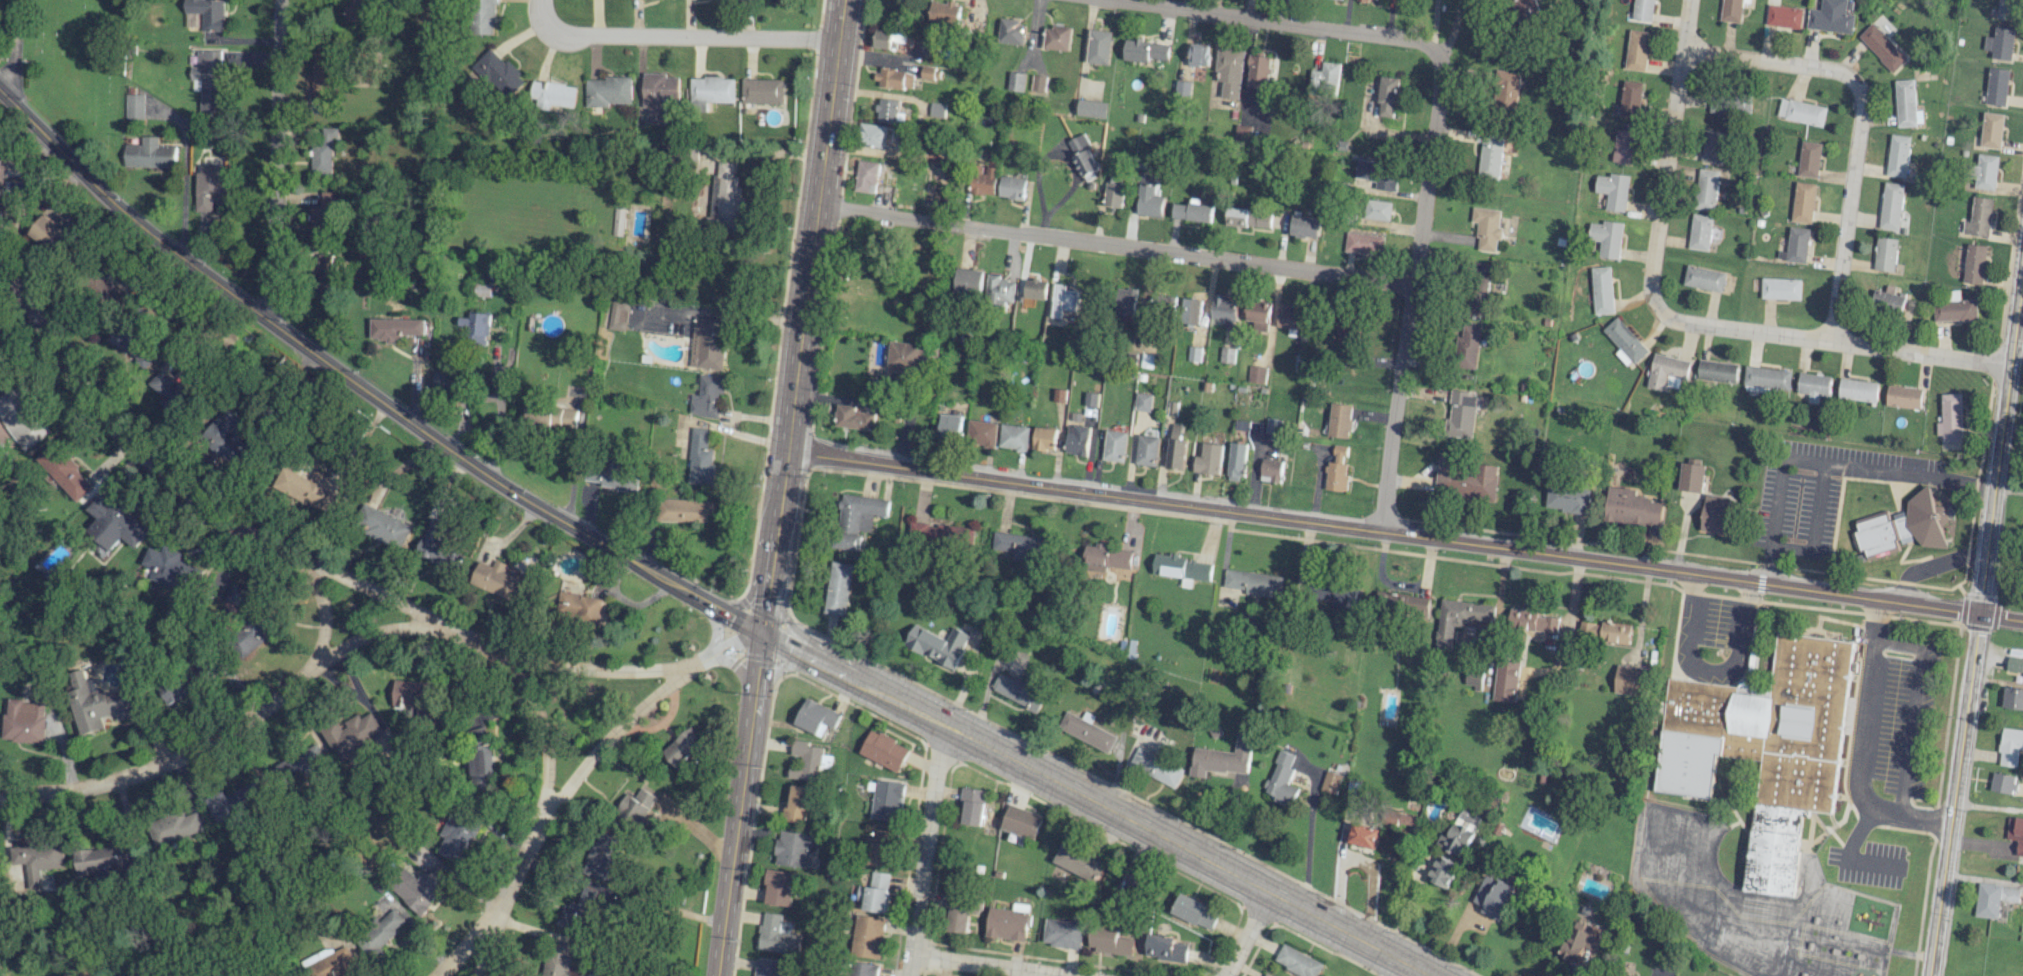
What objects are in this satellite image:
building: (1364, 0)
building: (1641, 9)
building: (2008, 9)
building: (358, 10)
building: (1730, 10)
building: (1526, 11)
building: (943, 12)
building: (207, 13)
building: (1783, 16)
building: (484, 17)
building: (1830, 20)
building: (1001, 30)
road: (678, 35)
building: (1057, 37)
building: (888, 38)
building: (2001, 43)
building: (1098, 46)
building: (1882, 47)
road: (12, 48)
building: (1635, 49)
building: (1144, 50)
building: (1198, 55)
road: (1770, 61)
park: (68, 70)
building: (1230, 70)
building: (1258, 71)
building: (498, 73)
building: (930, 73)
building: (321, 75)
building: (1326, 76)
building: (207, 78)
building: (894, 78)
building: (1016, 81)
building: (1038, 84)
building: (1999, 86)
building: (1182, 88)
building: (712, 90)
building: (1506, 90)
building: (606, 91)
building: (762, 91)
building: (658, 94)
building: (551, 95)
building: (1388, 96)
building: (1629, 98)
building: (1728, 103)
building: (134, 106)
building: (1091, 108)
building: (937, 109)
building: (886, 110)
building: (1800, 112)
road: (1432, 125)
building: (1992, 130)
building: (873, 135)
building: (1622, 146)
building: (1712, 146)
building: (322, 151)
building: (149, 154)
building: (1490, 155)
building: (1899, 155)
building: (1082, 156)
road: (1667, 156)
road: (272, 159)
building: (1809, 159)
building: (2, 166)
building: (1987, 171)
building: (1377, 173)
building: (866, 176)
building: (983, 180)
building: (210, 186)
building: (1002, 186)
building: (1706, 189)
building: (1612, 190)
building: (1114, 192)
building: (725, 199)
building: (1148, 201)
building: (1803, 201)
building: (1892, 205)
building: (6, 207)
building: (1379, 210)
building: (1192, 211)
road: (1848, 211)
building: (1237, 216)
building: (321, 217)
building: (1979, 217)
building: (1259, 219)
building: (635, 226)
building: (1304, 226)
building: (1486, 227)
building: (1700, 232)
building: (49, 233)
building: (1606, 238)
building: (1363, 243)
road: (1115, 244)
building: (1796, 245)
building: (1885, 254)
building: (1974, 263)
building: (327, 274)
building: (1705, 278)
building: (123, 279)
building: (968, 280)
building: (995, 288)
building: (1035, 288)
building: (1781, 288)
building: (1479, 289)
building: (1602, 289)
road: (805, 291)
building: (1892, 299)
building: (1064, 300)
building: (1126, 300)
building: (1163, 305)
building: (1955, 308)
building: (1225, 309)
building: (1193, 311)
building: (617, 314)
building: (1257, 314)
building: (1290, 317)
building: (395, 328)
building: (476, 328)
building: (1345, 336)
road: (1833, 340)
building: (1624, 342)
building: (707, 343)
building: (132, 345)
building: (1467, 346)
building: (1194, 353)
building: (1227, 354)
building: (910, 357)
road: (34, 361)
road: (332, 366)
building: (1666, 371)
building: (1716, 371)
building: (1257, 374)
building: (1765, 378)
building: (445, 381)
building: (1812, 385)
building: (1856, 390)
building: (170, 392)
building: (1059, 395)
building: (707, 396)
building: (1903, 396)
building: (1143, 401)
building: (1091, 404)
building: (1172, 407)
building: (1461, 414)
building: (21, 417)
building: (552, 417)
building: (1950, 417)
building: (852, 418)
building: (1339, 420)
road: (498, 423)
building: (949, 426)
building: (1272, 426)
building: (981, 433)
building: (1013, 437)
building: (1044, 438)
building: (1077, 440)
building: (1115, 445)
building: (1176, 447)
building: (1147, 450)
building: (1339, 453)
building: (700, 457)
building: (1208, 459)
building: (1236, 460)
road: (1827, 463)
building: (1272, 469)
building: (65, 471)
road: (574, 472)
building: (609, 475)
building: (1336, 476)
building: (1466, 477)
building: (1691, 477)
building: (1567, 499)
building: (1631, 507)
building: (688, 510)
building: (1714, 513)
building: (857, 519)
building: (115, 524)
building: (383, 526)
road: (1812, 526)
building: (1901, 529)
building: (946, 532)
road: (1404, 535)
building: (999, 537)
building: (436, 548)
road: (295, 550)
building: (1108, 558)
road: (1929, 563)
building: (167, 567)
building: (1182, 568)
building: (498, 581)
building: (1253, 583)
building: (838, 588)
building: (1338, 595)
road: (747, 598)
building: (239, 600)
road: (712, 603)
building: (578, 606)
road: (765, 606)
road: (321, 607)
road: (1572, 608)
building: (1458, 618)
road: (1977, 618)
road: (743, 620)
building: (1533, 621)
road: (788, 623)
road: (712, 627)
traffic signals: (762, 630)
building: (1589, 630)
building: (1615, 632)
building: (253, 635)
road: (733, 643)
road: (790, 644)
building: (940, 646)
road: (758, 659)
road: (695, 663)
building: (2014, 663)
road: (734, 665)
road: (782, 667)
road: (1707, 669)
building: (1473, 678)
building: (1506, 680)
building: (1632, 680)
building: (999, 683)
building: (174, 689)
road: (1917, 692)
building: (414, 696)
building: (2013, 698)
building: (95, 702)
building: (816, 717)
building: (23, 721)
road: (232, 728)
building: (1085, 730)
building: (353, 735)
road: (543, 735)
road: (1862, 739)
building: (2010, 746)
building: (683, 747)
building: (884, 750)
building: (482, 757)
building: (1222, 758)
building: (806, 761)
building: (298, 766)
building: (1156, 767)
building: (1281, 779)
building: (1331, 782)
building: (2002, 783)
building: (235, 800)
building: (887, 800)
road: (551, 802)
building: (795, 805)
building: (973, 806)
building: (1433, 810)
building: (635, 811)
road: (1123, 817)
road: (1929, 817)
building: (1399, 819)
building: (1021, 821)
building: (176, 827)
road: (734, 832)
building: (1461, 833)
building: (1364, 835)
building: (456, 837)
building: (2018, 837)
building: (880, 847)
building: (793, 849)
road: (926, 851)
building: (600, 856)
road: (1306, 858)
building: (105, 859)
building: (38, 860)
building: (1078, 861)
road: (1339, 871)
building: (1442, 871)
building: (1137, 881)
building: (418, 887)
building: (778, 887)
road: (1368, 890)
building: (874, 892)
building: (1492, 896)
building: (1992, 899)
building: (575, 911)
building: (1194, 912)
building: (956, 916)
building: (996, 922)
building: (383, 930)
building: (1062, 933)
road: (1248, 934)
building: (776, 935)
building: (868, 936)
building: (1108, 941)
building: (1578, 941)
road: (466, 944)
building: (1165, 948)
road: (1872, 948)
building: (558, 958)
building: (1298, 961)
building: (334, 963)
road: (992, 965)
building: (769, 968)
building: (864, 969)
building: (1266, 975)

